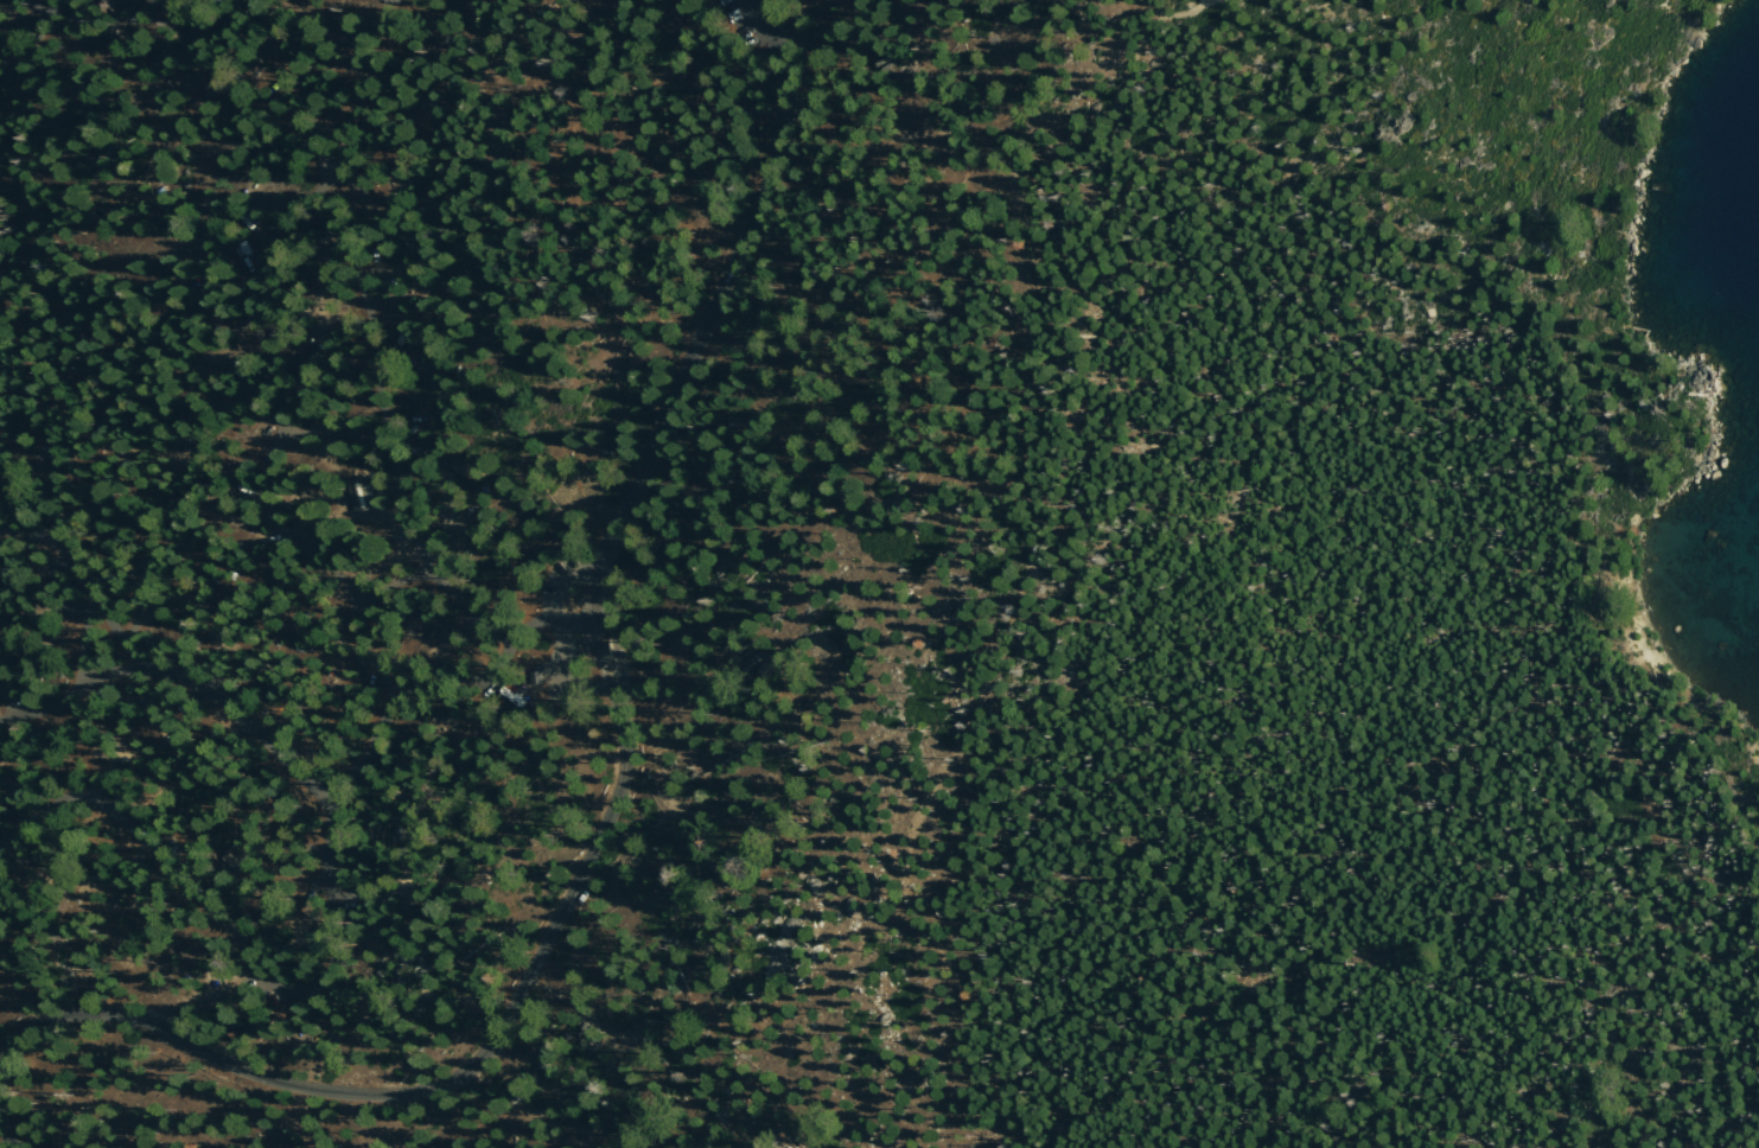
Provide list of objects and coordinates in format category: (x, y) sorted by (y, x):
road: (767, 8)
road: (961, 134)
road: (894, 164)
road: (257, 250)
road: (329, 429)
building: (359, 498)
road: (1016, 574)
road: (71, 576)
road: (394, 578)
toll booth: (614, 652)
road: (589, 662)
road: (173, 676)
road: (616, 789)
road: (324, 833)
road: (165, 863)
road: (541, 1077)
road: (6, 1130)

